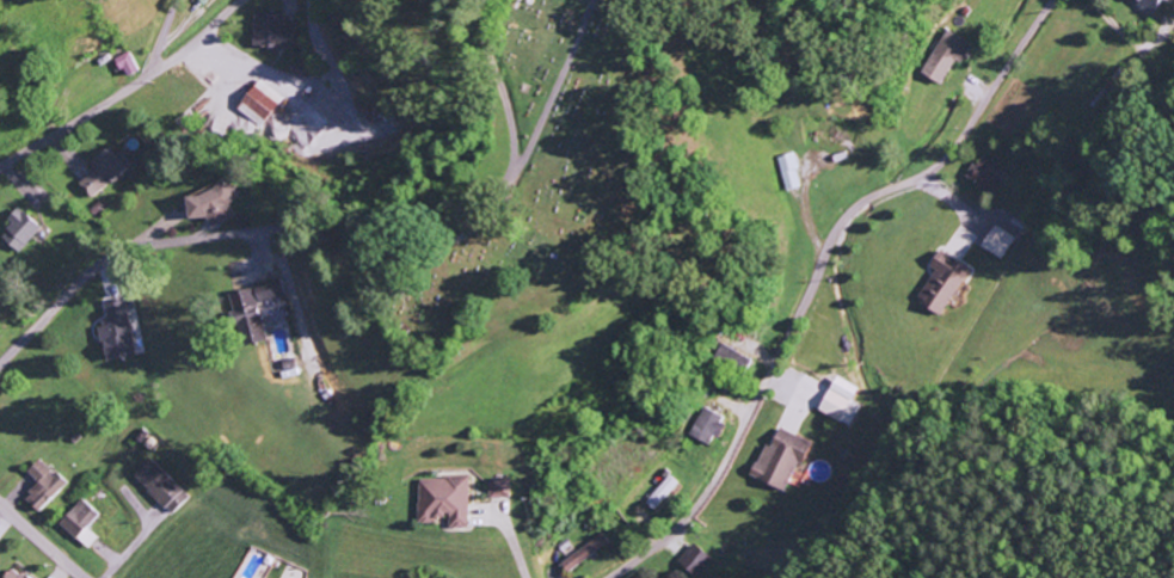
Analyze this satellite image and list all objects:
building: (1155, 1)
building: (1144, 5)
building: (270, 30)
road: (162, 38)
building: (942, 57)
building: (125, 63)
road: (554, 87)
road: (123, 91)
building: (257, 102)
building: (102, 171)
building: (789, 171)
building: (986, 173)
building: (215, 203)
road: (327, 221)
building: (18, 229)
building: (997, 241)
road: (816, 275)
building: (942, 282)
building: (251, 308)
building: (113, 331)
building: (732, 359)
building: (837, 398)
building: (706, 426)
building: (779, 459)
building: (41, 485)
building: (159, 486)
building: (498, 487)
building: (659, 492)
building: (442, 499)
building: (79, 523)
road: (41, 541)
building: (583, 552)
building: (693, 560)
building: (11, 573)

